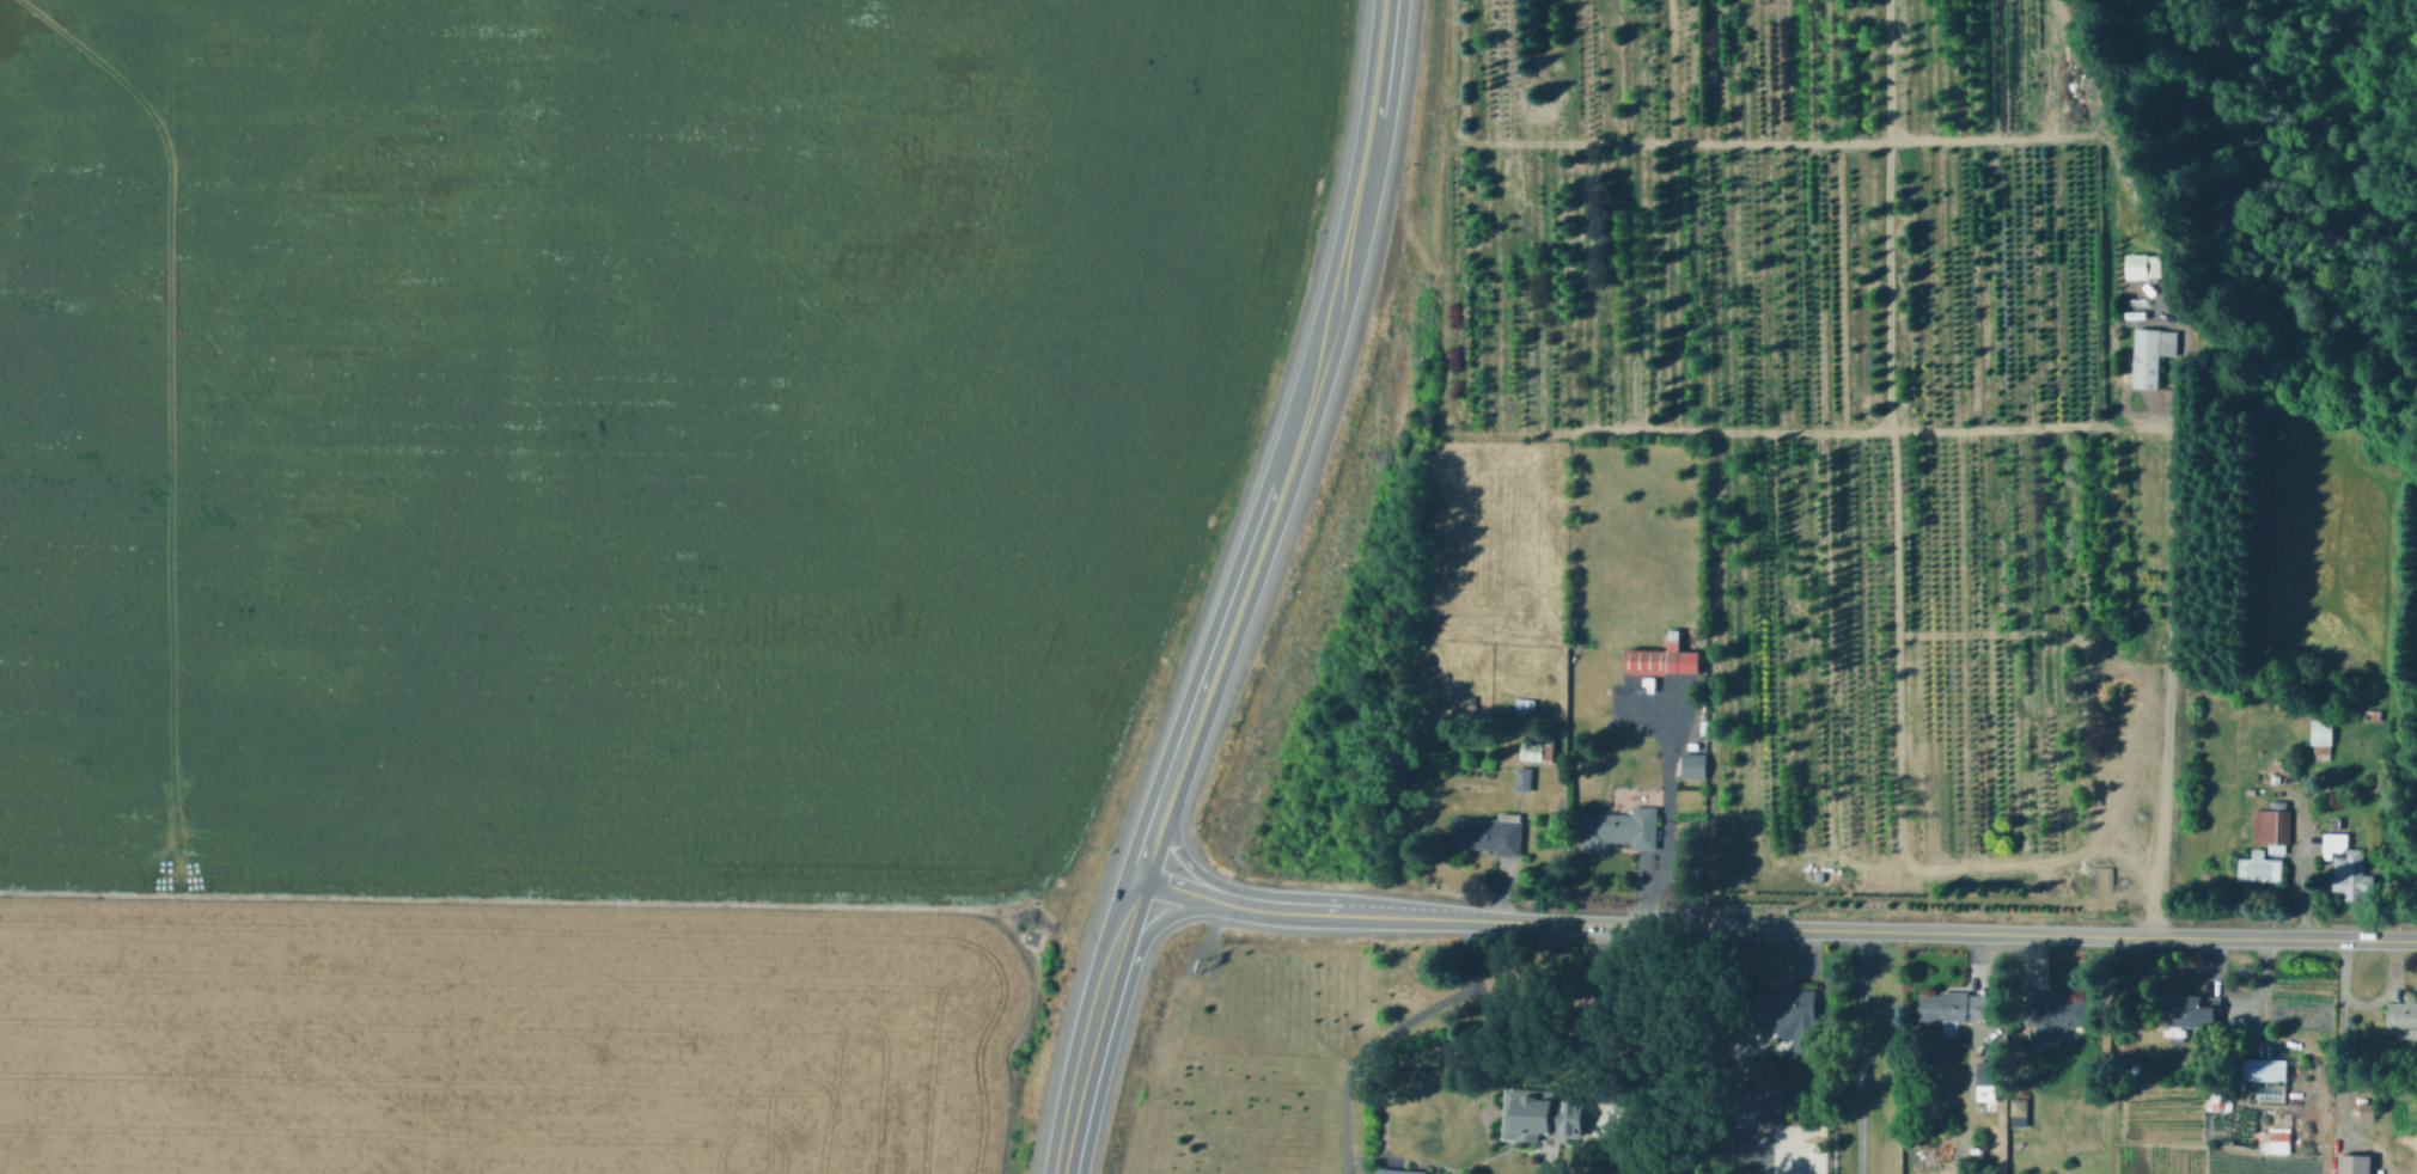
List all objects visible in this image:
building: (2143, 265)
road: (1442, 291)
building: (2152, 354)
crop: (593, 555)
road: (1238, 589)
road: (2173, 604)
building: (1662, 661)
building: (1528, 704)
building: (2374, 715)
building: (2323, 734)
building: (1539, 750)
building: (1695, 765)
building: (1524, 778)
road: (1668, 809)
building: (1622, 828)
building: (2272, 828)
building: (1490, 833)
road: (1188, 862)
building: (2349, 867)
building: (2260, 868)
road: (2297, 870)
road: (1158, 922)
road: (1775, 927)
building: (1953, 1009)
building: (2192, 1010)
building: (1790, 1014)
building: (2057, 1015)
building: (2403, 1019)
road: (1385, 1027)
road: (2340, 1039)
road: (1735, 1050)
road: (1858, 1051)
crop: (1245, 1068)
building: (2265, 1069)
building: (1990, 1072)
building: (1771, 1106)
building: (2368, 1111)
building: (1522, 1113)
building: (2020, 1113)
building: (2021, 1144)
building: (2281, 1147)
building: (2355, 1163)
building: (1758, 1167)
building: (1388, 1172)

